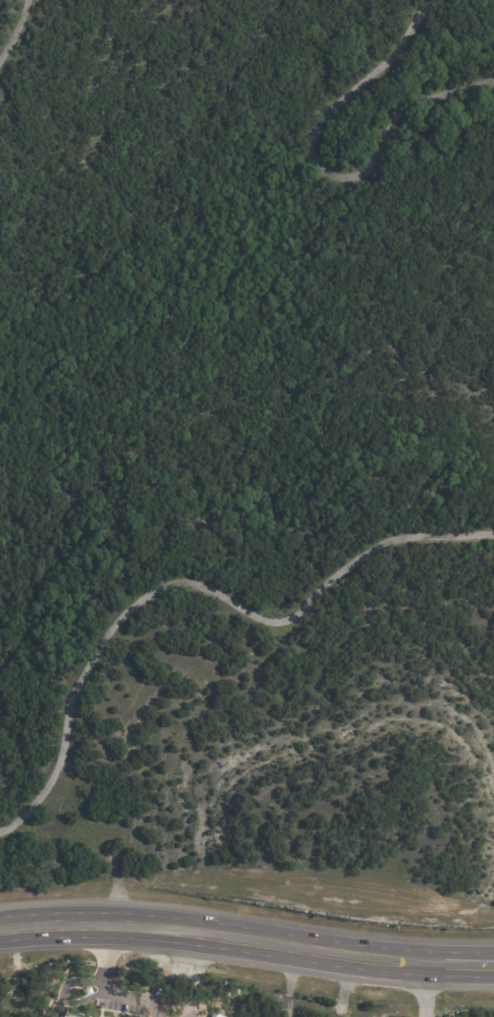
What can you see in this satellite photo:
road: (211, 934)
road: (458, 964)
road: (114, 973)
road: (422, 989)
building: (135, 1002)
building: (66, 1014)
building: (216, 1015)

